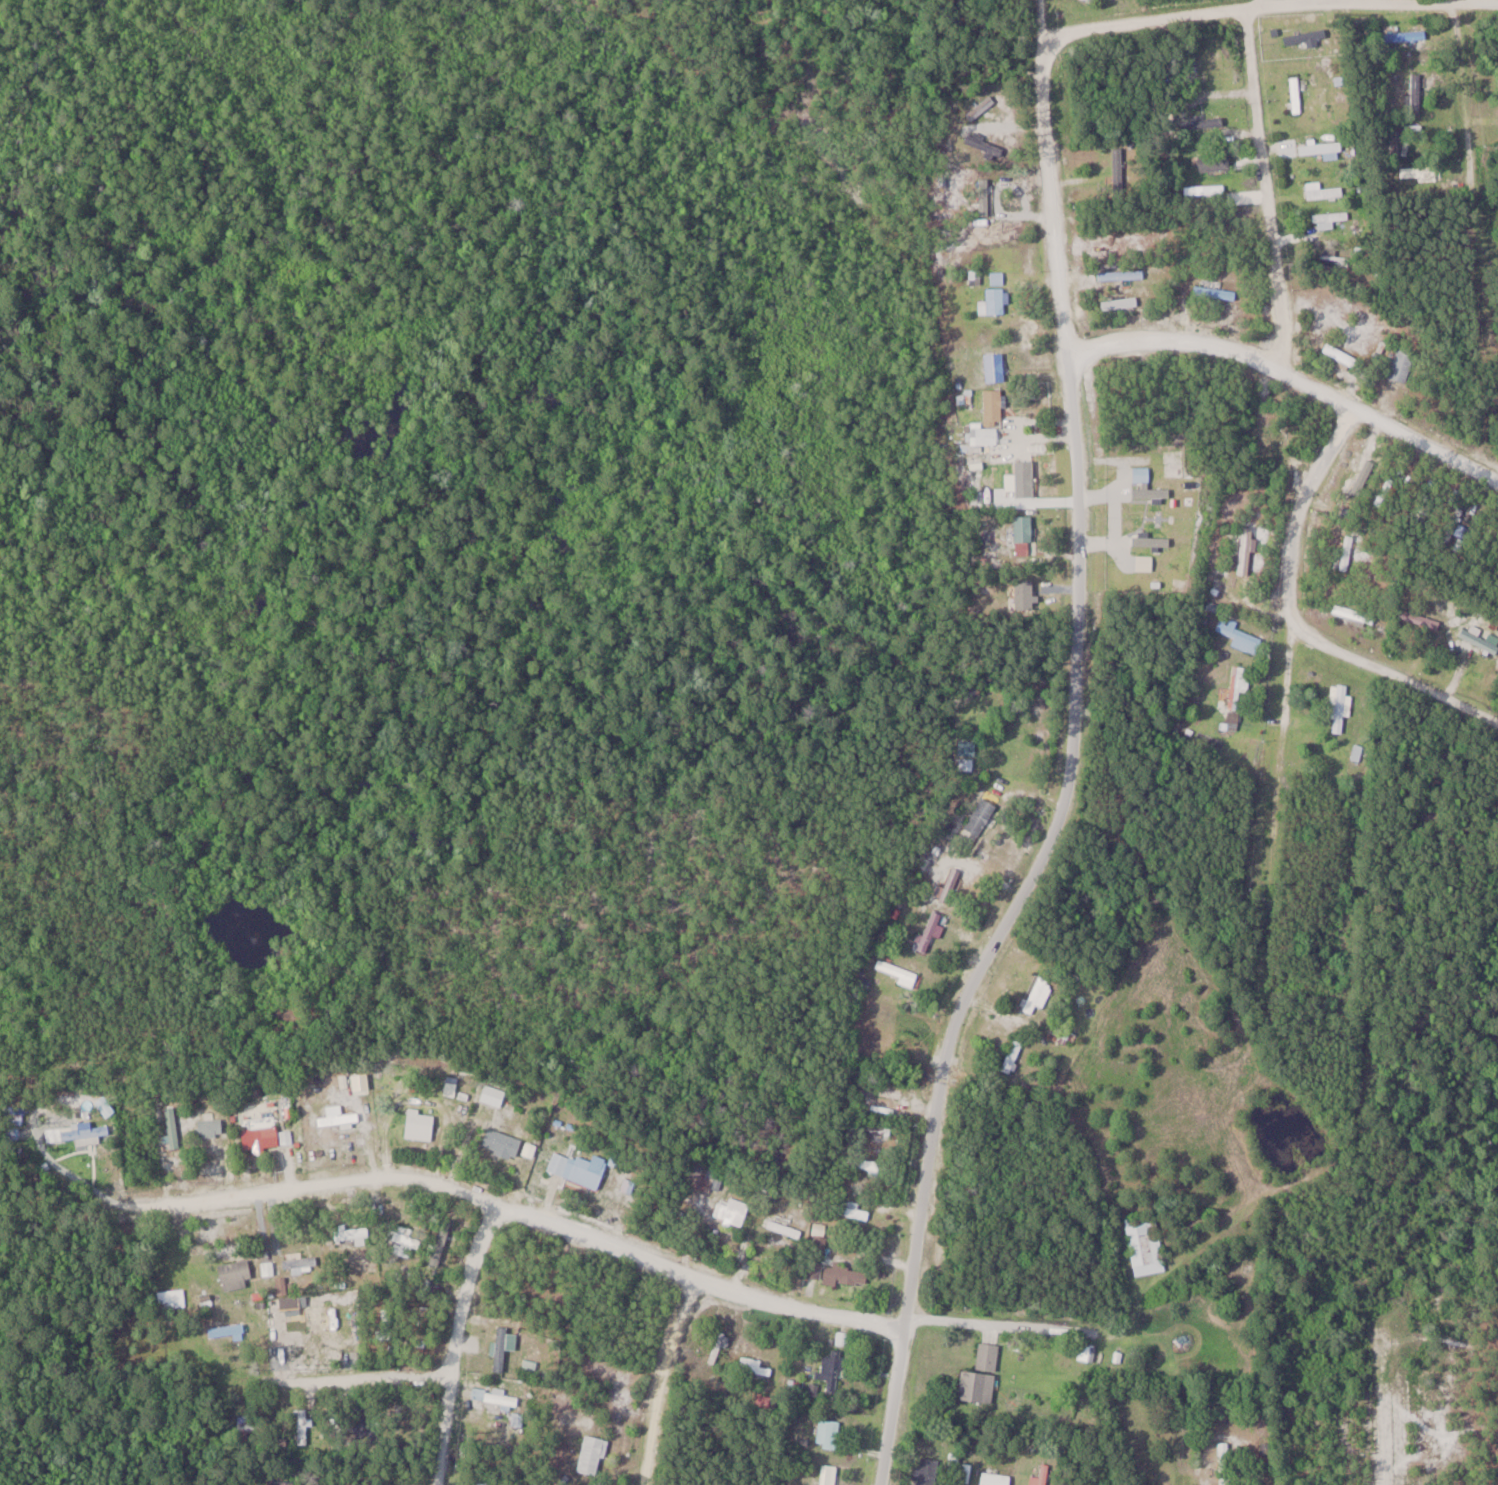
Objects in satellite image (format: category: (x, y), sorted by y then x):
road: (1483, 1)
road: (1460, 2)
road: (1201, 13)
building: (1407, 35)
building: (1306, 37)
building: (1417, 92)
building: (1296, 94)
building: (1204, 121)
building: (1322, 148)
building: (1216, 161)
building: (1119, 170)
road: (1474, 178)
road: (1264, 184)
building: (1323, 191)
building: (1205, 192)
building: (1330, 219)
building: (1122, 275)
building: (1216, 292)
building: (995, 301)
building: (1120, 303)
building: (1350, 303)
building: (1342, 355)
building: (1403, 364)
building: (996, 367)
road: (1289, 372)
building: (994, 404)
building: (985, 435)
building: (1020, 470)
building: (1025, 528)
building: (1348, 553)
building: (1354, 613)
building: (1420, 619)
building: (1239, 635)
building: (1480, 640)
road: (1394, 678)
building: (1239, 693)
road: (1285, 701)
building: (1340, 706)
road: (1073, 758)
building: (983, 815)
road: (1483, 897)
building: (901, 974)
building: (1037, 994)
building: (1061, 1033)
building: (1014, 1055)
building: (452, 1088)
building: (888, 1092)
building: (494, 1095)
building: (339, 1119)
building: (421, 1122)
building: (173, 1126)
building: (210, 1127)
building: (879, 1129)
building: (79, 1131)
building: (261, 1138)
building: (502, 1143)
building: (870, 1164)
building: (589, 1169)
building: (710, 1177)
road: (460, 1190)
building: (854, 1208)
building: (733, 1209)
building: (351, 1234)
building: (407, 1239)
building: (1146, 1242)
building: (440, 1245)
building: (301, 1263)
building: (267, 1267)
building: (237, 1274)
building: (848, 1274)
building: (387, 1324)
building: (226, 1329)
road: (1005, 1330)
road: (455, 1341)
building: (718, 1347)
building: (755, 1365)
building: (834, 1368)
building: (982, 1375)
road: (664, 1378)
road: (336, 1382)
building: (249, 1422)
building: (302, 1423)
building: (829, 1432)
road: (1167, 1444)
building: (593, 1454)
building: (959, 1462)
building: (1226, 1462)
building: (929, 1470)
building: (829, 1474)
building: (1041, 1476)
building: (996, 1478)
building: (280, 1481)
building: (384, 1483)
building: (486, 1483)

